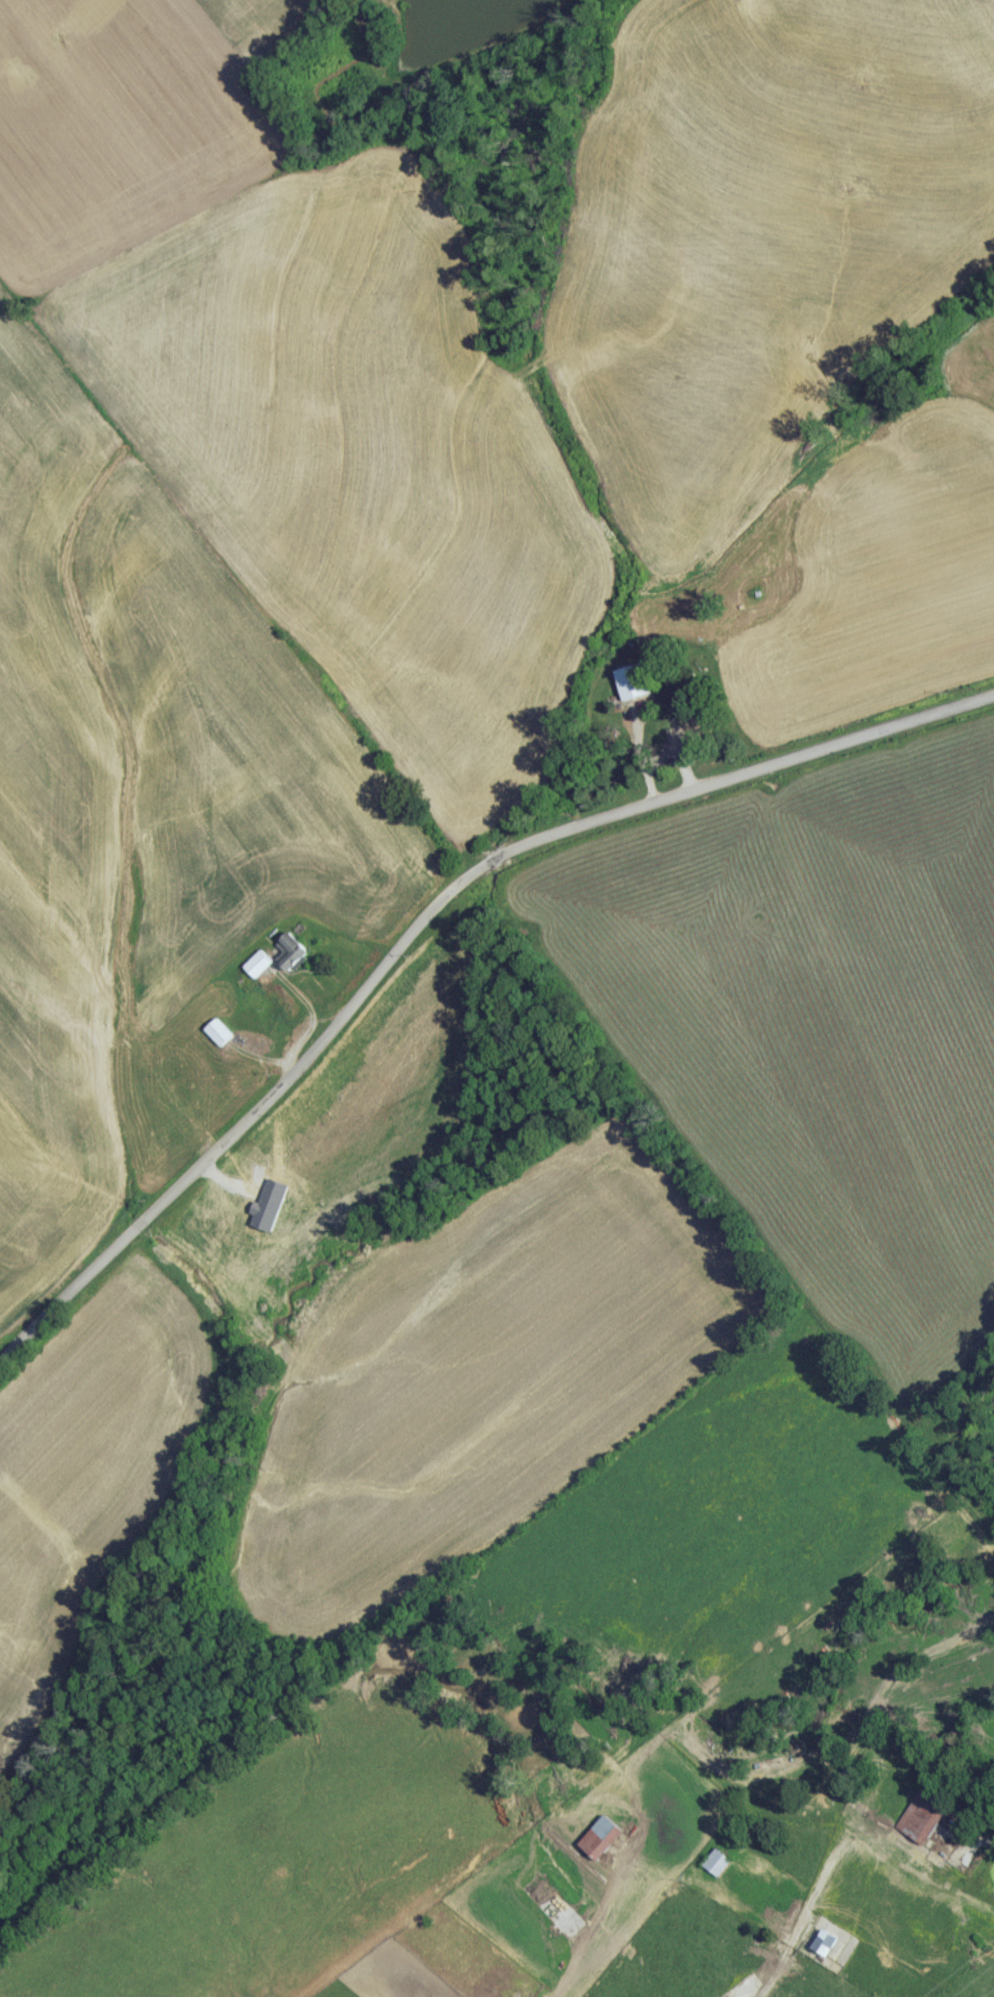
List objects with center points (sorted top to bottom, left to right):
building: (631, 687)
road: (426, 923)
building: (292, 956)
building: (259, 969)
building: (220, 1038)
building: (603, 1843)
building: (718, 1868)
road: (797, 1902)
building: (827, 1949)

